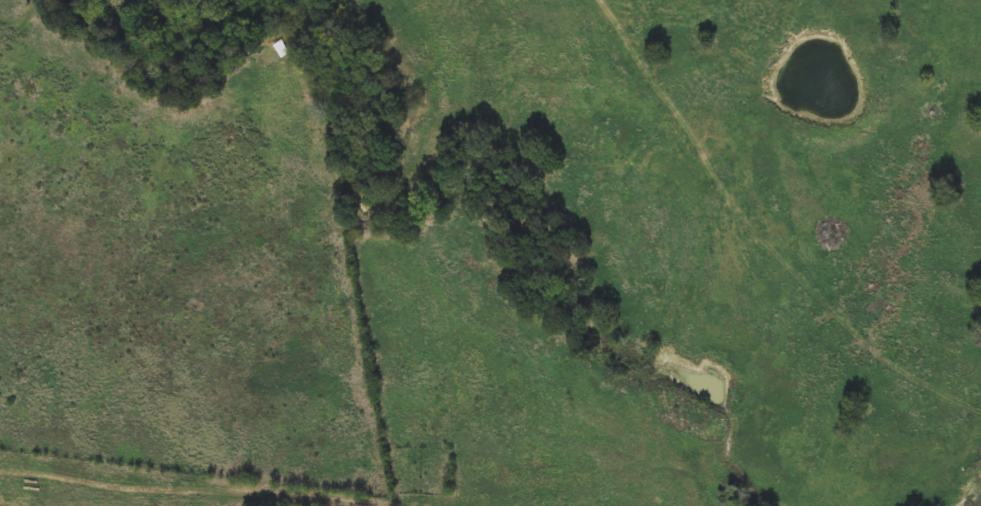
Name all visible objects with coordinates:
road: (19, 23)
building: (294, 39)

